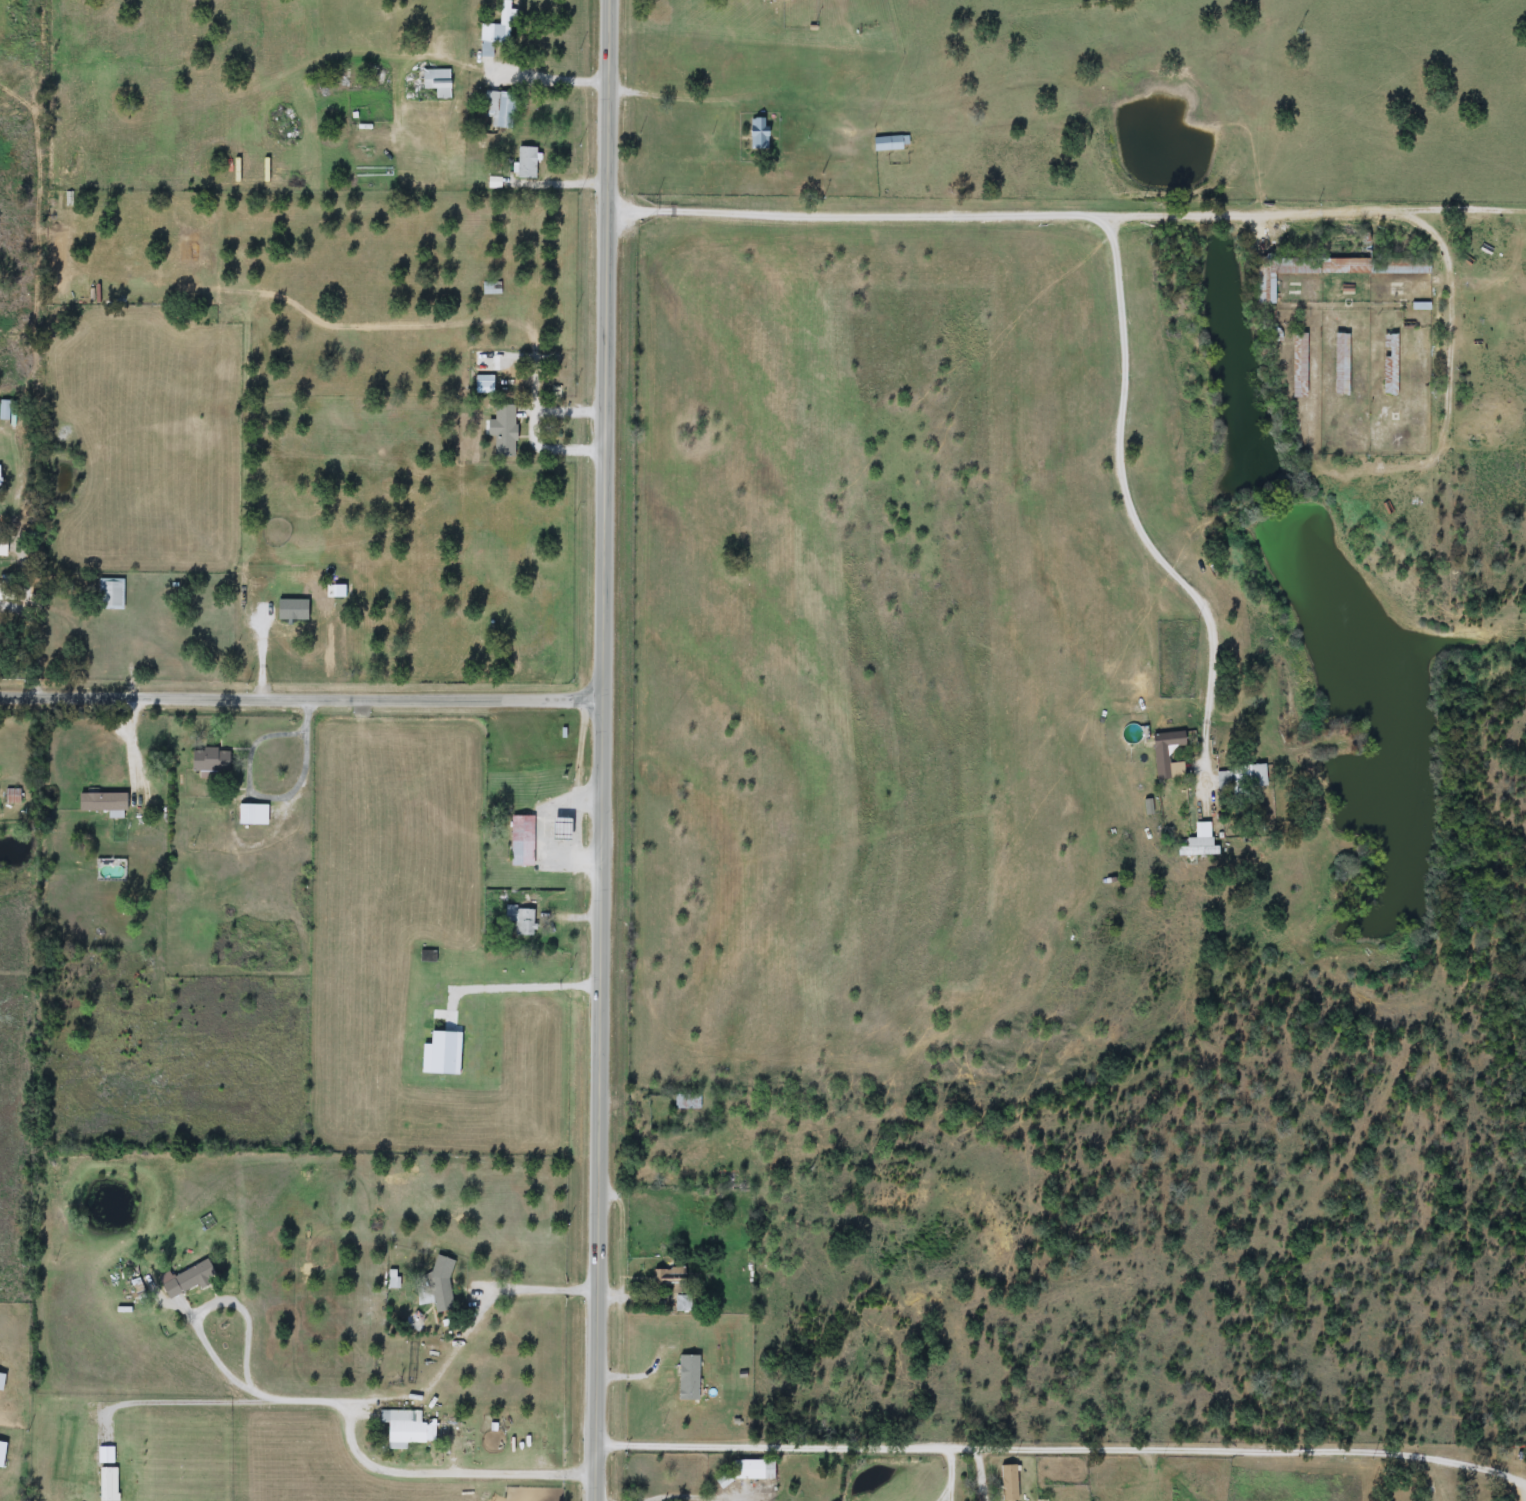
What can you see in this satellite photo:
building: (776, 0)
building: (496, 31)
road: (545, 72)
building: (437, 81)
road: (675, 101)
building: (500, 108)
building: (759, 133)
building: (889, 144)
building: (527, 162)
road: (1017, 213)
building: (488, 288)
building: (1345, 288)
road: (1444, 354)
building: (1300, 365)
building: (1342, 365)
building: (1390, 366)
building: (484, 382)
building: (5, 410)
building: (505, 431)
road: (1135, 514)
building: (3, 546)
building: (2, 592)
building: (111, 594)
road: (40, 642)
road: (300, 696)
road: (601, 750)
building: (1168, 756)
road: (303, 757)
building: (211, 760)
building: (1242, 777)
building: (104, 803)
building: (253, 815)
building: (522, 841)
building: (1199, 841)
building: (520, 921)
building: (428, 957)
road: (525, 988)
building: (687, 1102)
building: (189, 1280)
building: (438, 1284)
building: (683, 1303)
road: (195, 1317)
road: (435, 1363)
building: (689, 1377)
building: (2, 1381)
building: (407, 1427)
road: (1064, 1442)
building: (754, 1469)
road: (979, 1471)
road: (952, 1472)
road: (441, 1477)
building: (1010, 1482)

